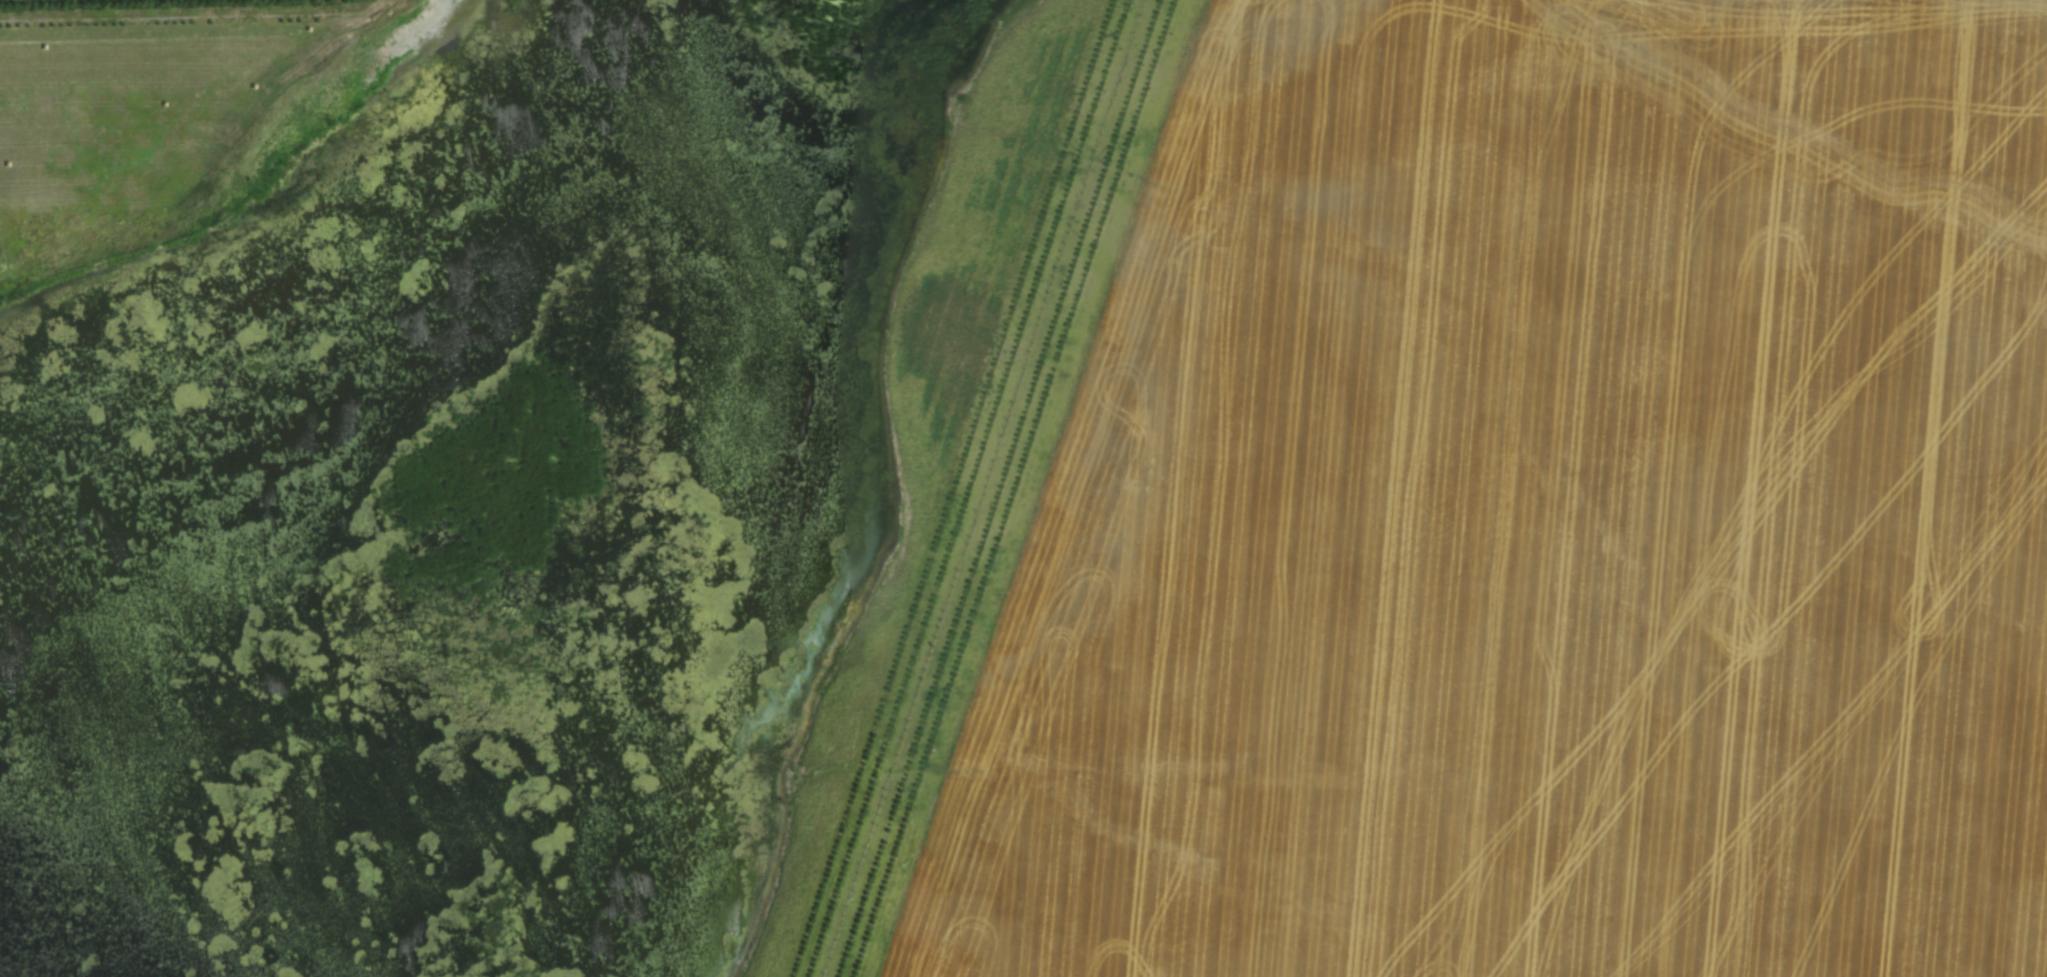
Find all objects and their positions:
crop: (1545, 513)

